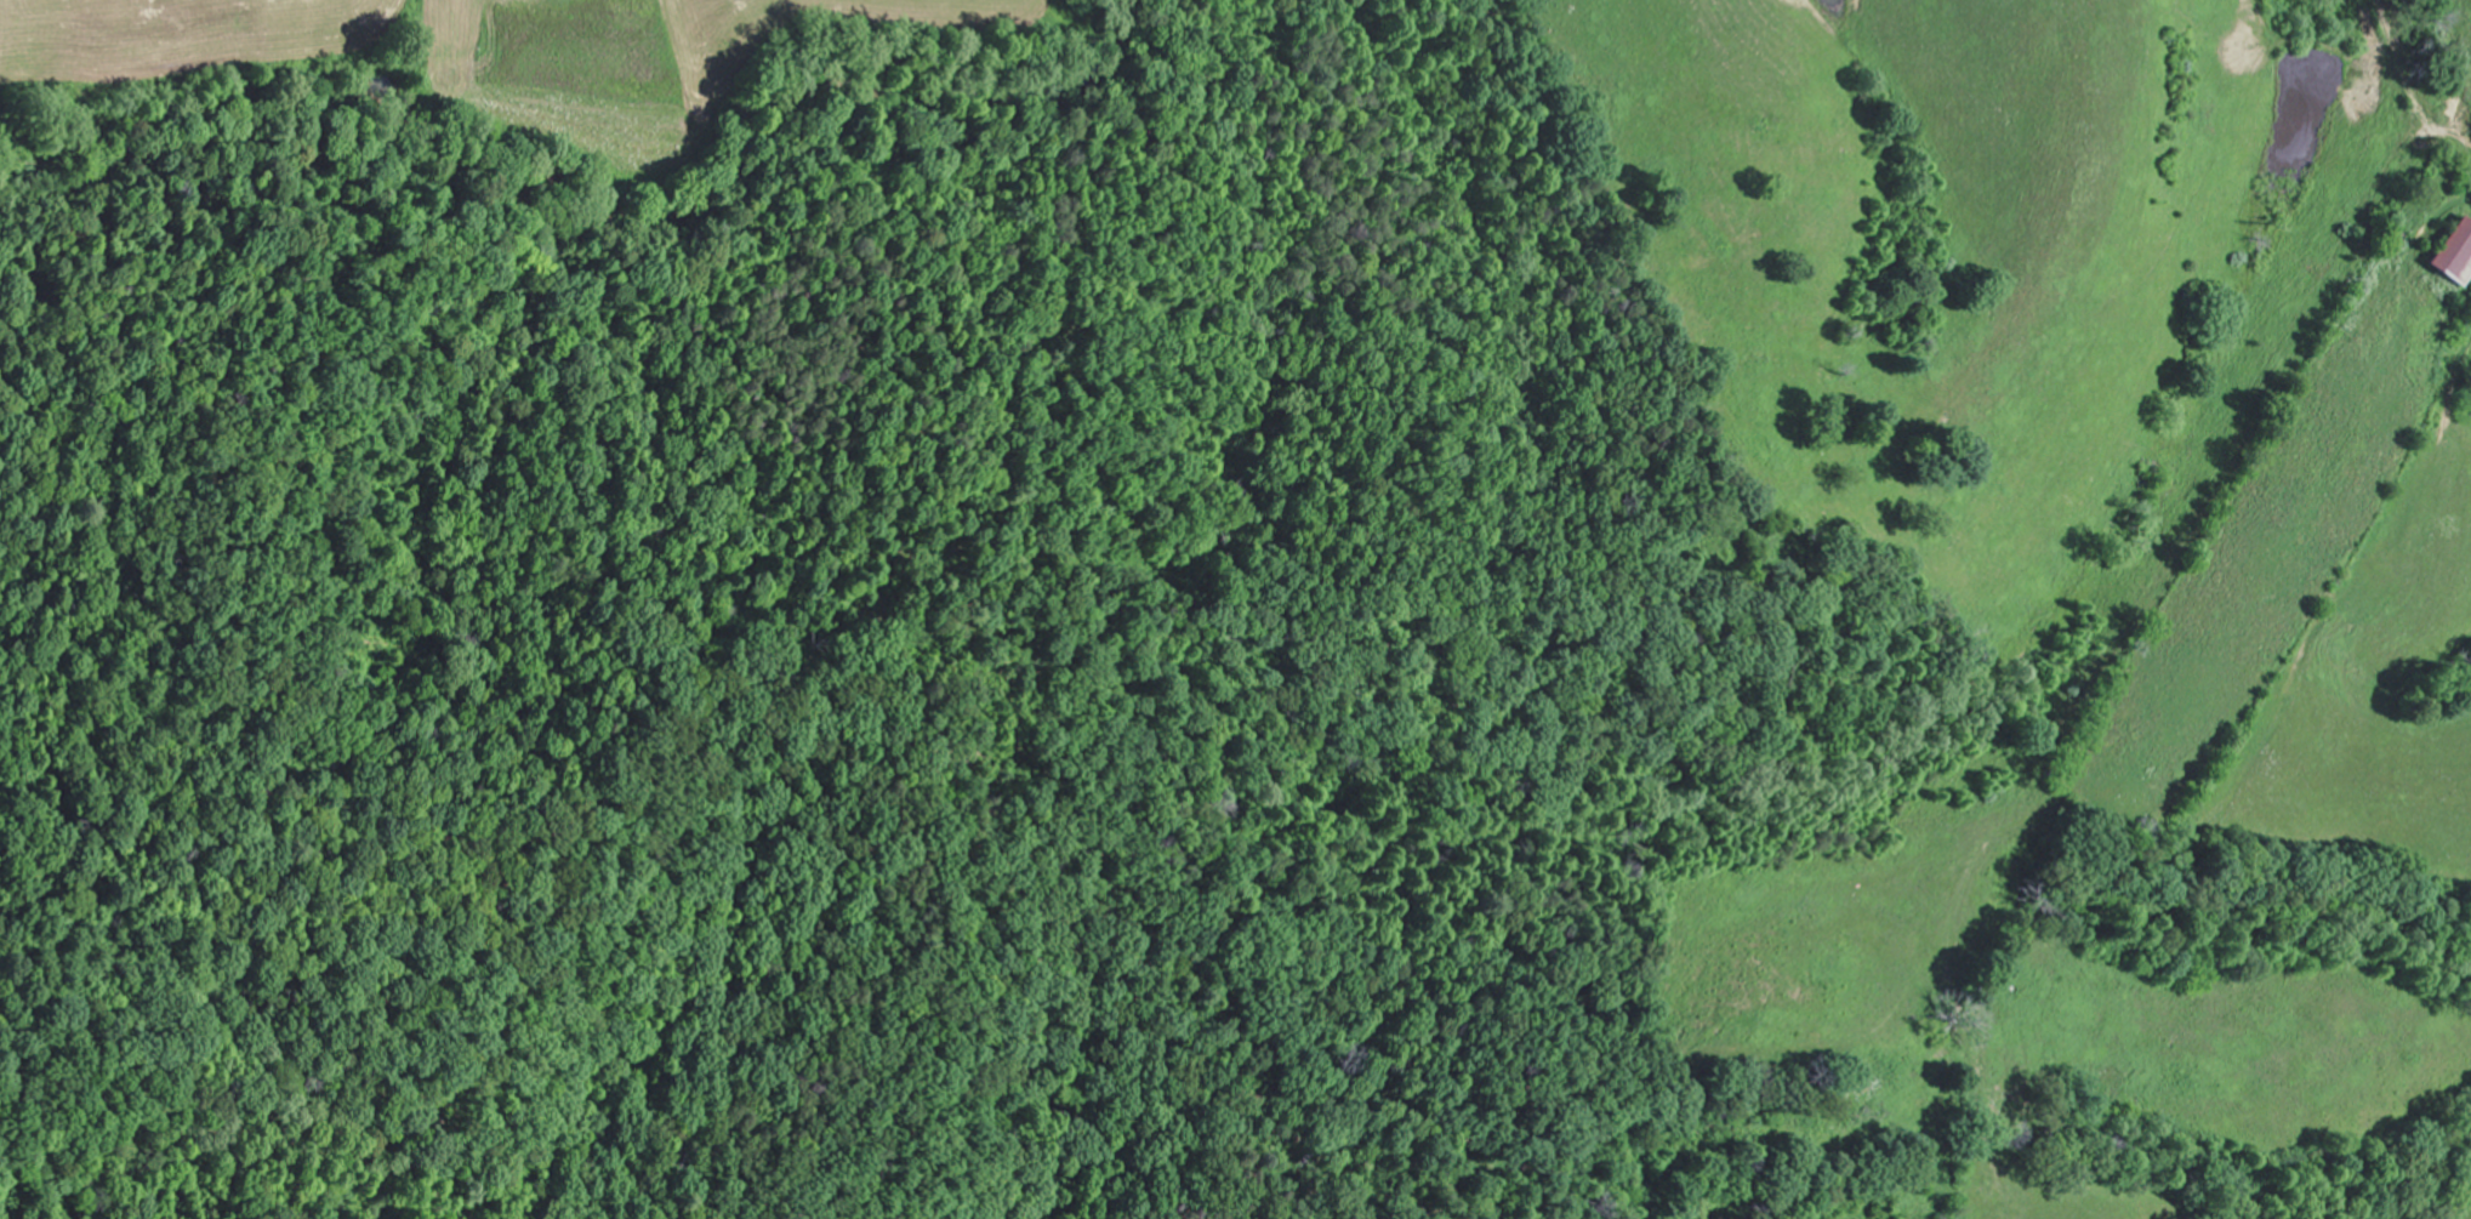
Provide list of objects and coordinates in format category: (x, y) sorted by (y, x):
building: (2453, 255)

